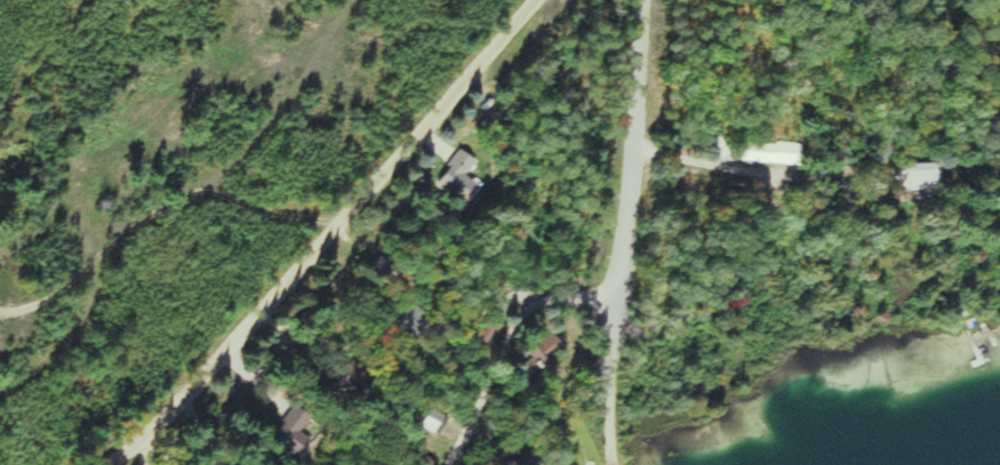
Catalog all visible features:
road: (632, 143)
building: (775, 153)
building: (464, 176)
building: (926, 177)
road: (161, 209)
road: (333, 238)
building: (387, 266)
building: (420, 321)
building: (496, 331)
building: (965, 337)
road: (513, 343)
building: (548, 356)
road: (608, 373)
building: (344, 381)
building: (440, 422)
building: (300, 437)

